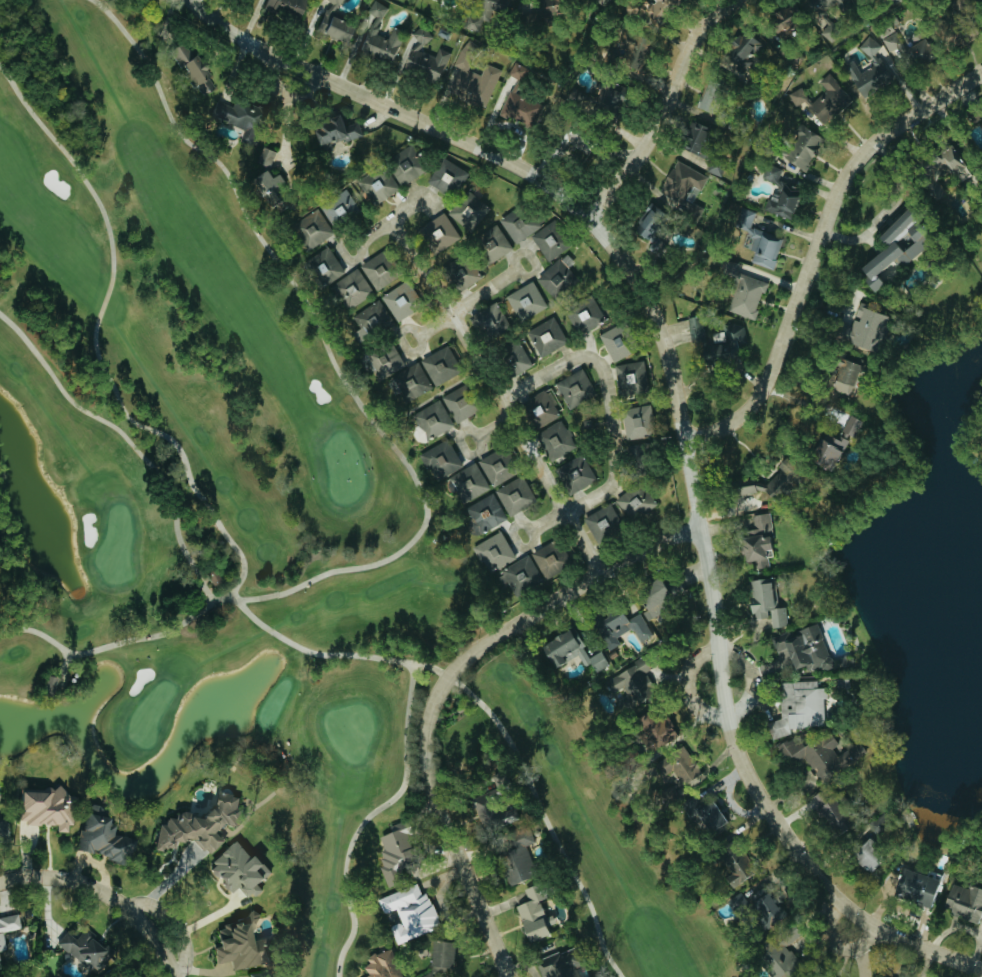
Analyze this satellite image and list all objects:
building: (245, 0)
building: (433, 0)
building: (823, 6)
building: (533, 7)
building: (281, 9)
building: (654, 9)
building: (482, 13)
building: (329, 24)
building: (375, 37)
building: (948, 37)
building: (891, 45)
building: (866, 47)
building: (622, 51)
building: (421, 58)
building: (189, 70)
building: (514, 72)
building: (863, 77)
building: (470, 80)
road: (282, 91)
building: (603, 96)
building: (704, 100)
building: (819, 101)
road: (668, 107)
building: (517, 109)
building: (234, 117)
building: (333, 131)
building: (692, 138)
building: (797, 149)
building: (402, 165)
building: (935, 169)
building: (768, 173)
building: (443, 177)
building: (263, 178)
building: (676, 184)
building: (374, 186)
building: (781, 202)
building: (335, 208)
building: (465, 211)
road: (391, 223)
building: (516, 226)
building: (308, 228)
building: (646, 231)
building: (436, 234)
building: (755, 240)
building: (546, 241)
road: (359, 242)
building: (490, 245)
road: (820, 246)
building: (889, 250)
road: (532, 259)
building: (322, 266)
building: (374, 273)
building: (463, 275)
building: (554, 277)
building: (349, 289)
building: (743, 297)
building: (397, 301)
building: (522, 301)
road: (465, 302)
building: (583, 316)
building: (369, 318)
building: (485, 322)
building: (693, 328)
building: (865, 330)
road: (416, 335)
building: (543, 337)
building: (612, 344)
building: (726, 345)
building: (512, 360)
building: (382, 361)
building: (437, 366)
building: (627, 377)
building: (841, 378)
building: (410, 383)
building: (572, 389)
road: (497, 396)
road: (805, 400)
building: (455, 405)
building: (538, 410)
road: (611, 416)
road: (684, 419)
building: (429, 420)
building: (633, 422)
road: (496, 430)
road: (479, 437)
building: (555, 439)
building: (829, 446)
building: (438, 461)
building: (491, 468)
building: (572, 474)
building: (466, 483)
building: (750, 490)
building: (513, 496)
building: (631, 502)
building: (481, 515)
building: (600, 523)
road: (529, 527)
park: (250, 529)
building: (755, 542)
building: (491, 553)
building: (531, 570)
building: (650, 600)
building: (763, 604)
building: (616, 626)
building: (799, 650)
building: (567, 653)
building: (630, 683)
building: (46, 684)
road: (441, 686)
building: (653, 733)
building: (816, 756)
building: (674, 766)
building: (36, 810)
building: (833, 814)
building: (704, 816)
building: (195, 826)
building: (1, 831)
building: (99, 841)
building: (393, 848)
building: (864, 855)
building: (514, 861)
building: (234, 872)
building: (727, 883)
building: (911, 888)
road: (110, 892)
building: (963, 905)
building: (753, 907)
building: (407, 914)
building: (530, 915)
building: (7, 924)
road: (836, 941)
building: (236, 945)
building: (78, 948)
building: (0, 949)
building: (439, 957)
building: (777, 963)
building: (378, 965)
building: (557, 966)
building: (425, 975)

